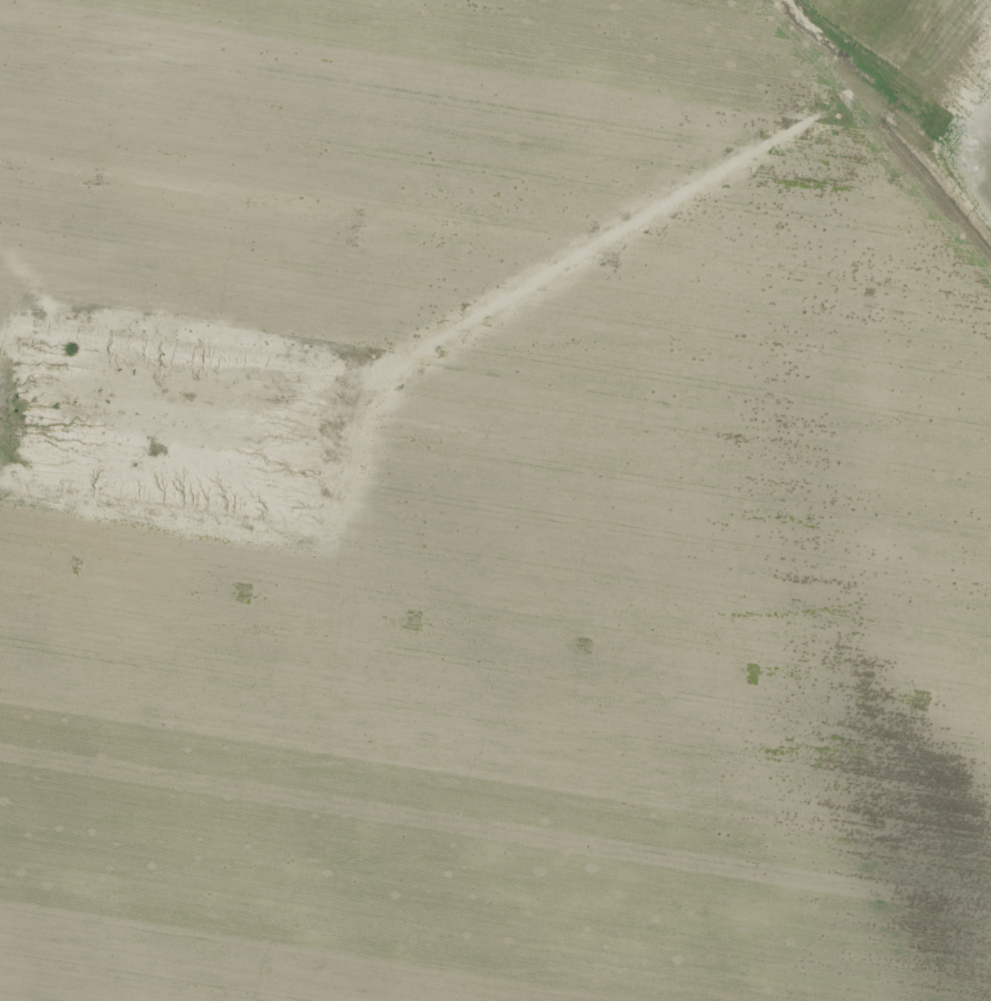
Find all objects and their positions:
landfill: (580, 70)

